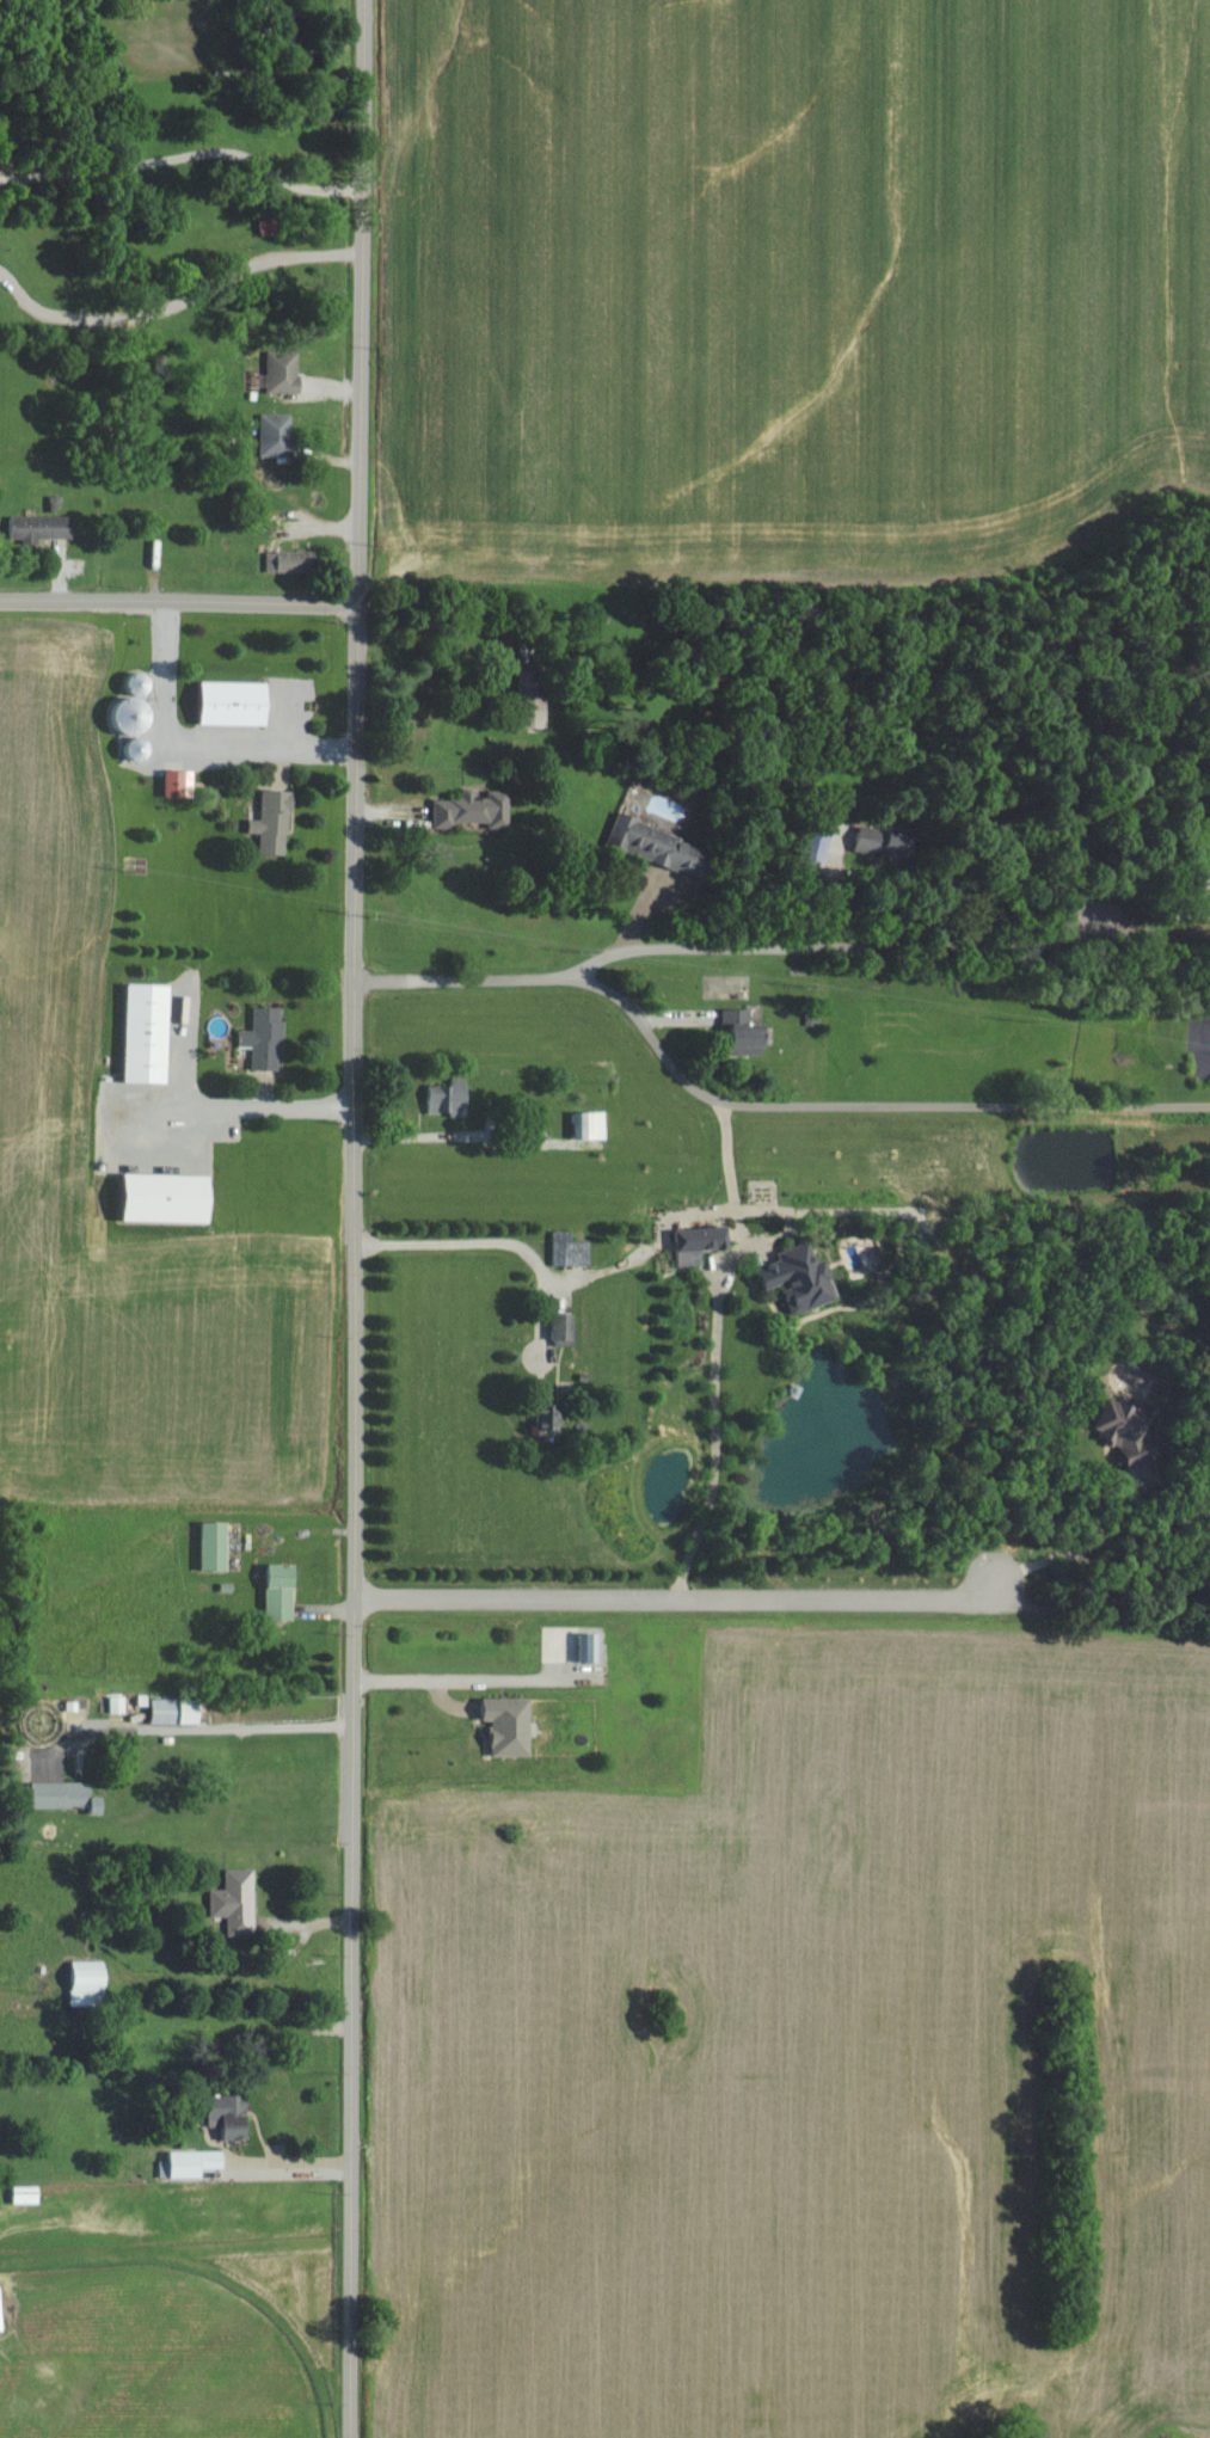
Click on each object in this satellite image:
road: (179, 159)
road: (173, 306)
building: (285, 371)
building: (278, 435)
building: (44, 526)
building: (290, 560)
road: (177, 598)
building: (538, 698)
building: (238, 702)
building: (137, 707)
road: (189, 742)
building: (182, 782)
building: (475, 810)
building: (276, 822)
building: (886, 841)
building: (658, 845)
road: (776, 942)
building: (190, 997)
building: (747, 1027)
building: (151, 1032)
building: (266, 1037)
building: (450, 1097)
road: (229, 1103)
road: (866, 1104)
building: (592, 1125)
building: (171, 1197)
road: (351, 1218)
road: (484, 1240)
building: (701, 1242)
building: (572, 1251)
building: (803, 1277)
building: (565, 1329)
road: (713, 1346)
building: (553, 1421)
building: (1124, 1424)
building: (217, 1546)
road: (1085, 1550)
building: (283, 1592)
road: (676, 1597)
road: (1099, 1599)
building: (589, 1647)
road: (442, 1677)
building: (119, 1705)
building: (178, 1711)
building: (512, 1725)
road: (192, 1726)
building: (67, 1797)
building: (238, 1902)
building: (91, 1983)
building: (232, 2115)
road: (287, 2161)
building: (192, 2163)
building: (29, 2196)
building: (2, 2309)

